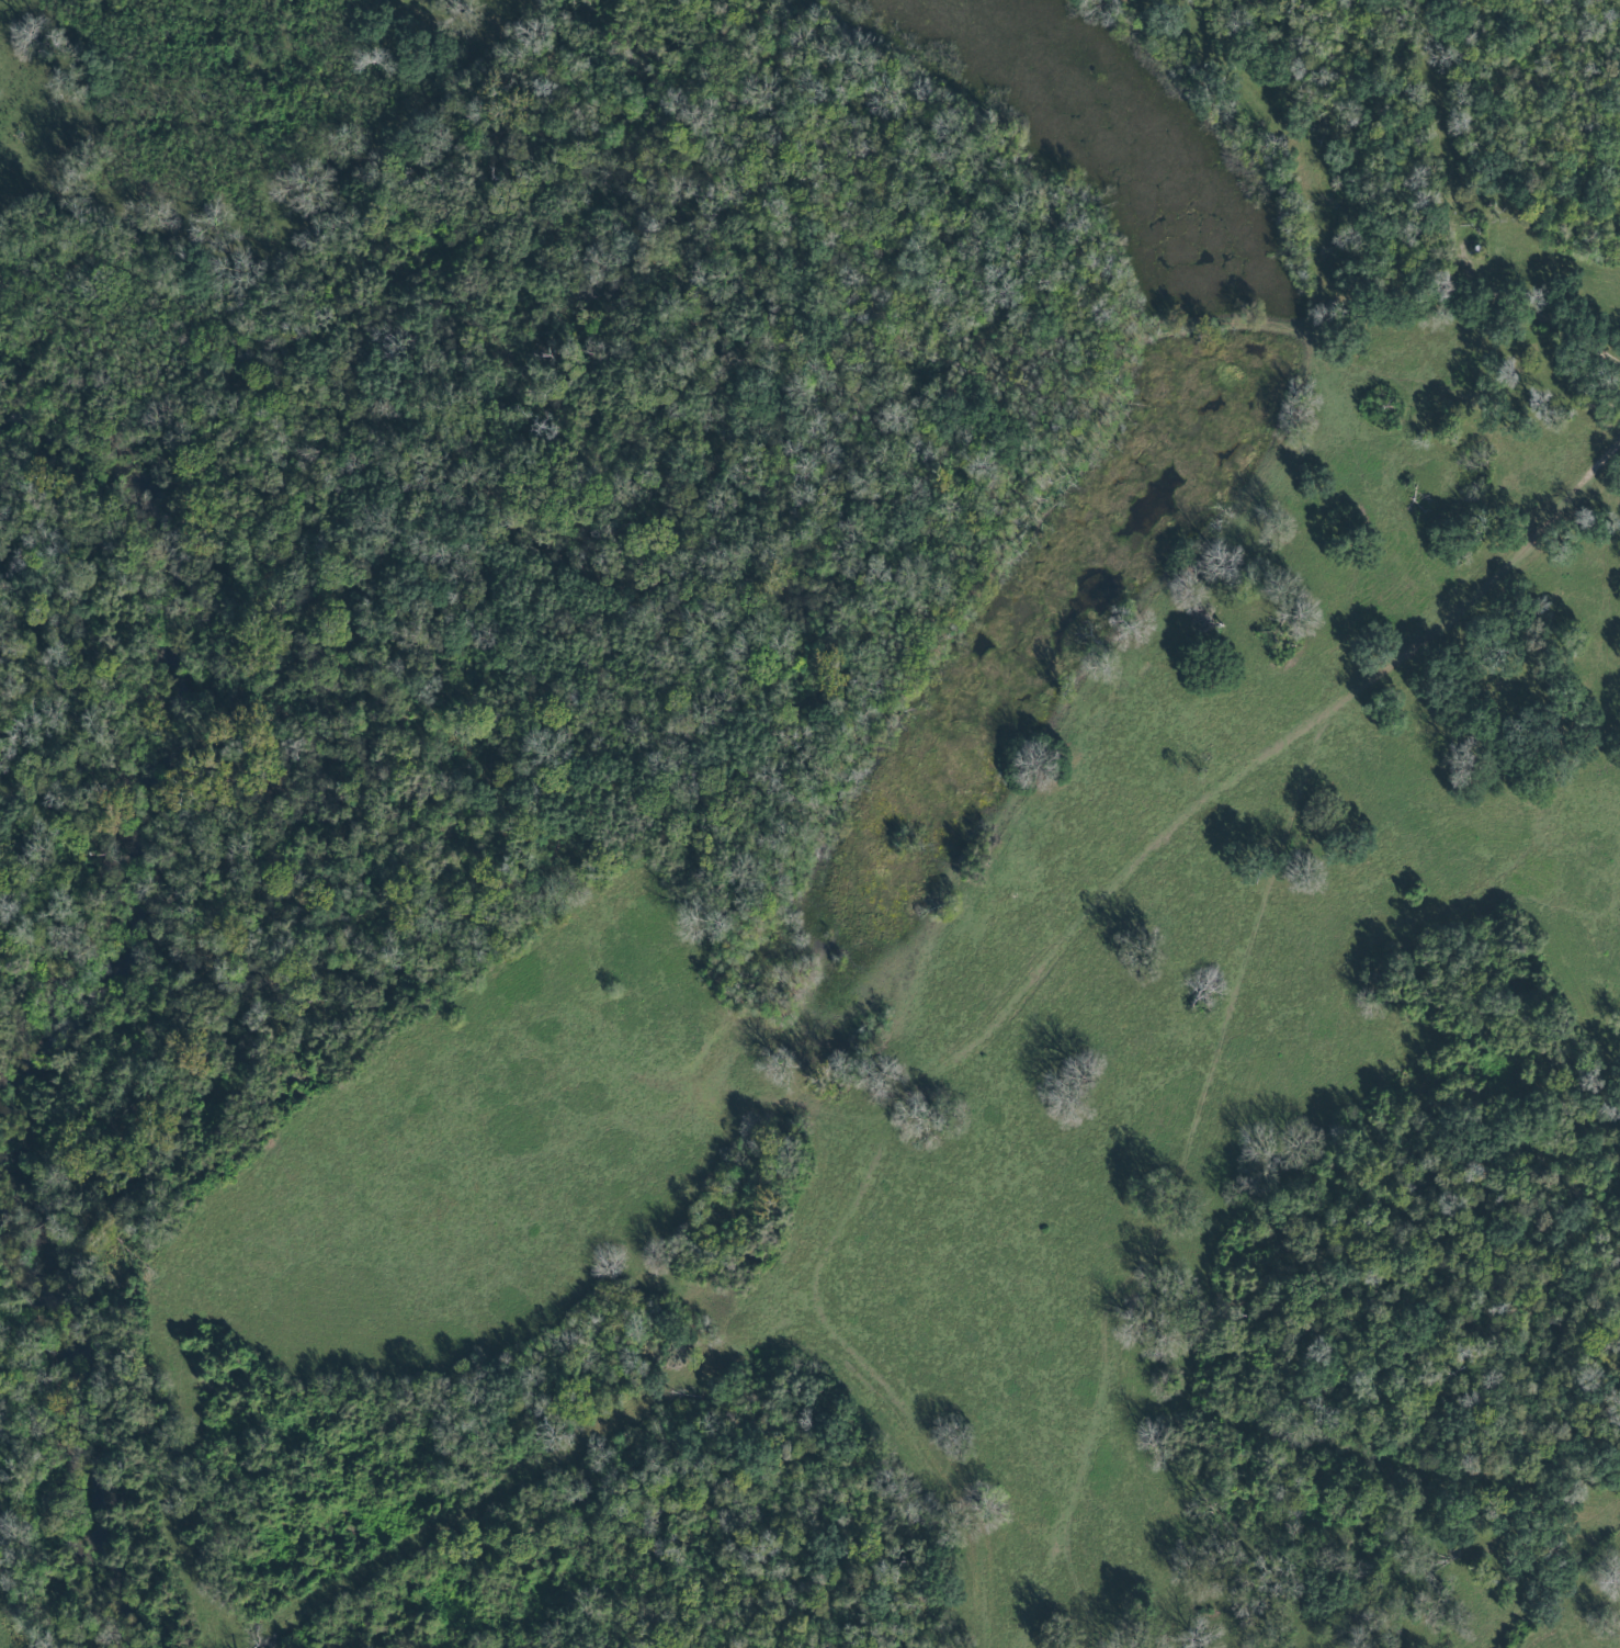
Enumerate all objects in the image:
road: (1279, 754)

